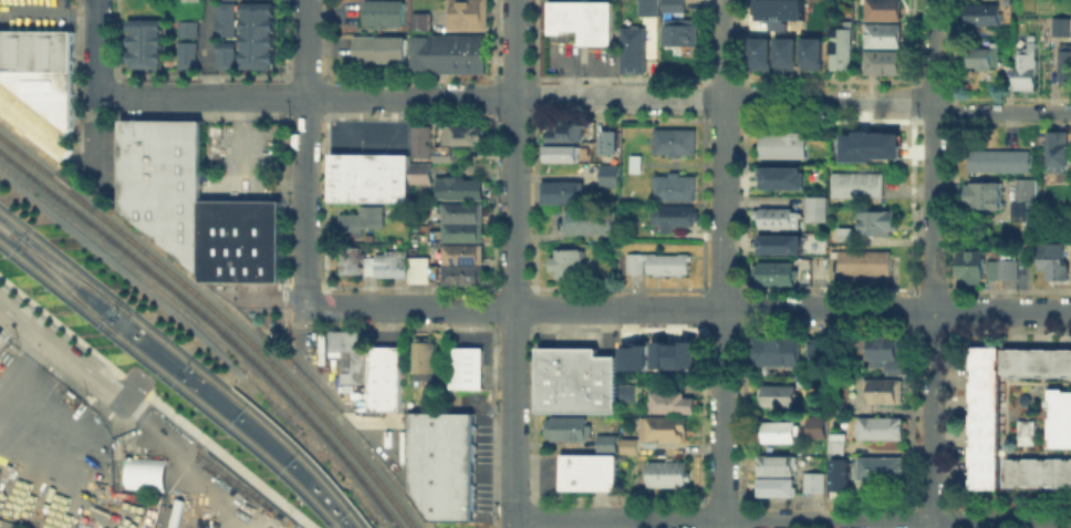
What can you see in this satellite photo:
building: (190, 0)
building: (672, 6)
building: (647, 8)
building: (771, 9)
building: (882, 9)
building: (386, 15)
building: (469, 15)
building: (985, 17)
building: (225, 18)
building: (581, 19)
building: (425, 24)
building: (186, 28)
building: (1062, 29)
building: (677, 31)
building: (256, 33)
building: (882, 33)
building: (144, 42)
building: (840, 46)
road: (97, 48)
road: (212, 48)
building: (632, 49)
building: (35, 50)
building: (760, 51)
building: (784, 51)
building: (381, 52)
building: (810, 52)
building: (186, 54)
building: (225, 54)
building: (451, 54)
building: (987, 59)
building: (882, 61)
building: (1067, 64)
building: (1028, 70)
road: (573, 79)
road: (603, 83)
road: (584, 99)
building: (39, 105)
building: (561, 132)
road: (96, 133)
building: (425, 138)
building: (462, 139)
building: (673, 139)
building: (605, 142)
building: (867, 142)
building: (782, 144)
building: (560, 152)
road: (305, 153)
building: (1060, 154)
building: (1002, 161)
building: (424, 174)
building: (607, 174)
building: (782, 176)
building: (372, 178)
building: (163, 180)
building: (855, 183)
building: (464, 186)
building: (673, 186)
building: (559, 190)
building: (1030, 193)
building: (986, 198)
building: (817, 207)
building: (672, 215)
building: (779, 217)
building: (588, 219)
building: (1070, 219)
building: (363, 221)
building: (872, 221)
building: (466, 222)
building: (239, 239)
building: (780, 242)
building: (352, 259)
road: (514, 259)
building: (563, 261)
building: (655, 262)
building: (862, 262)
building: (1056, 262)
road: (725, 263)
road: (934, 263)
building: (389, 266)
building: (465, 267)
building: (973, 269)
building: (423, 270)
building: (772, 271)
building: (1004, 271)
railway: (66, 272)
railway: (58, 277)
road: (687, 310)
railway: (221, 315)
road: (60, 324)
railway: (212, 324)
building: (1, 332)
building: (1, 337)
building: (883, 346)
building: (817, 349)
building: (774, 350)
building: (635, 351)
building: (675, 351)
road: (69, 356)
railway: (188, 361)
building: (426, 361)
building: (896, 366)
building: (372, 369)
building: (467, 369)
railway: (174, 379)
building: (574, 380)
building: (803, 380)
road: (132, 383)
road: (73, 387)
building: (884, 389)
building: (626, 391)
building: (774, 394)
building: (670, 401)
building: (1059, 418)
building: (814, 425)
building: (662, 426)
building: (565, 427)
building: (880, 427)
building: (982, 429)
building: (777, 431)
building: (1026, 431)
building: (605, 443)
building: (627, 444)
building: (834, 452)
road: (229, 460)
building: (774, 464)
building: (443, 465)
building: (876, 467)
building: (588, 470)
building: (144, 472)
building: (665, 473)
building: (1038, 473)
building: (838, 474)
building: (812, 480)
building: (774, 486)
road: (791, 519)
road: (508, 522)
road: (513, 522)
road: (6, 526)

